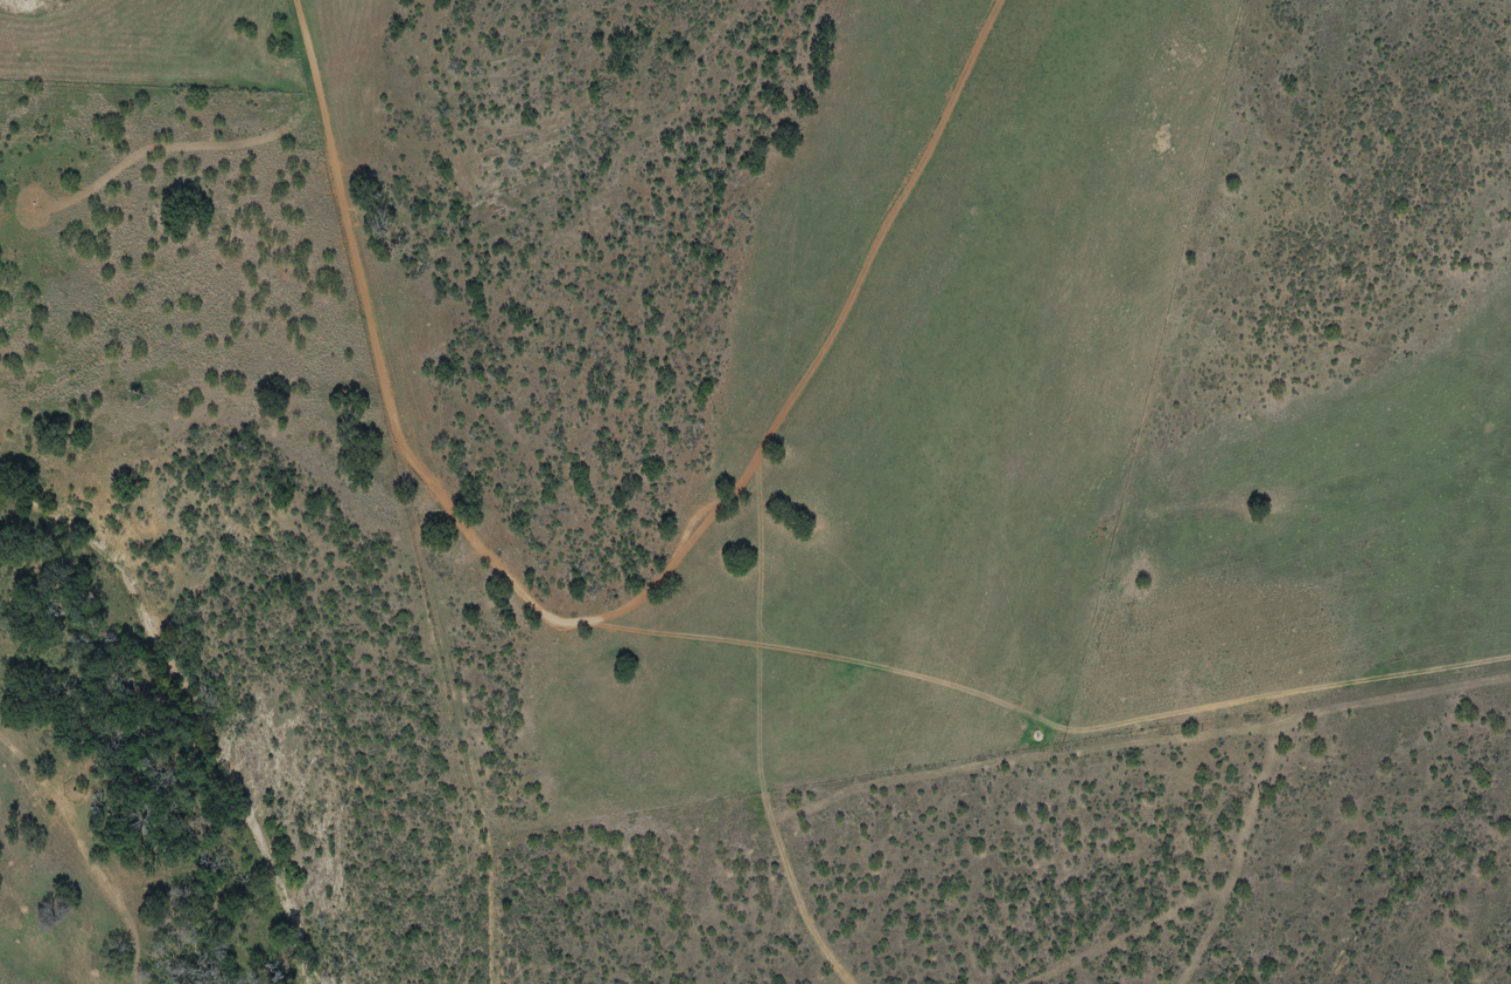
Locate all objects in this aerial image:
road: (37, 912)

